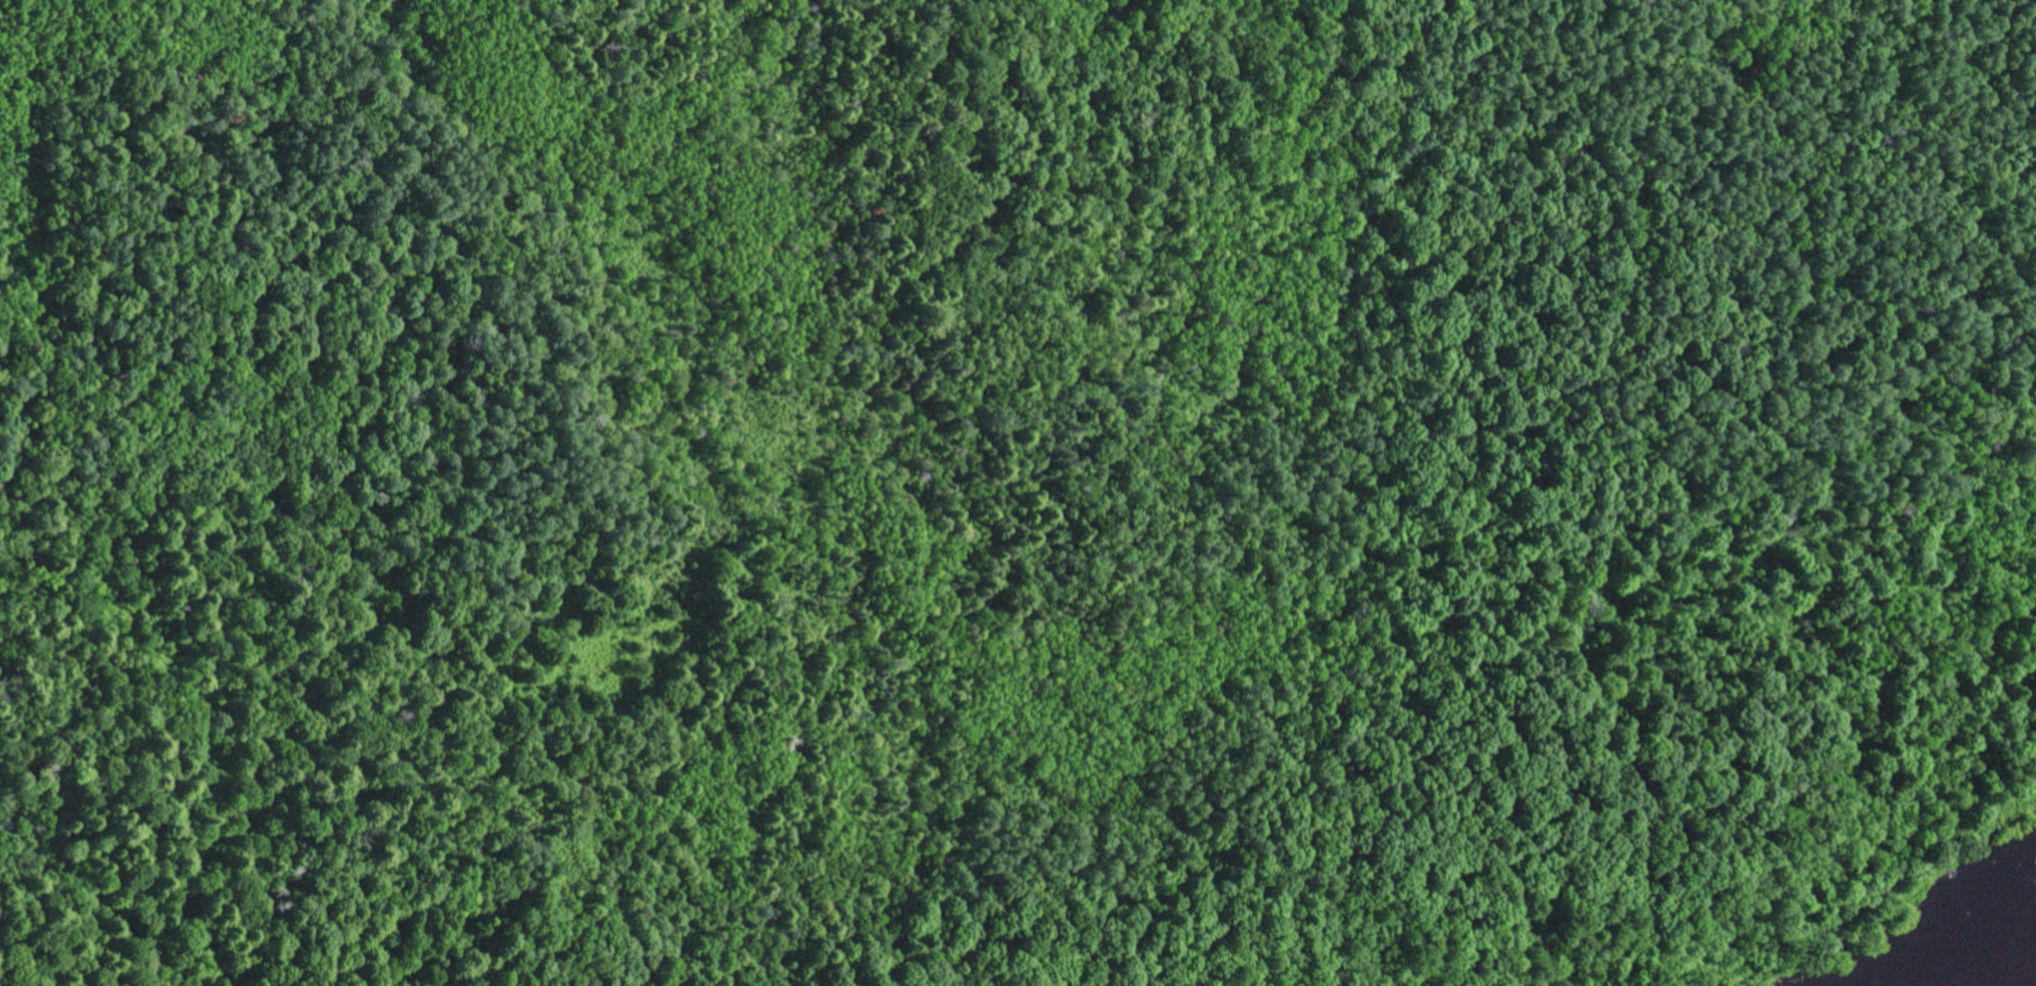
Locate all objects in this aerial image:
river: (1982, 943)

